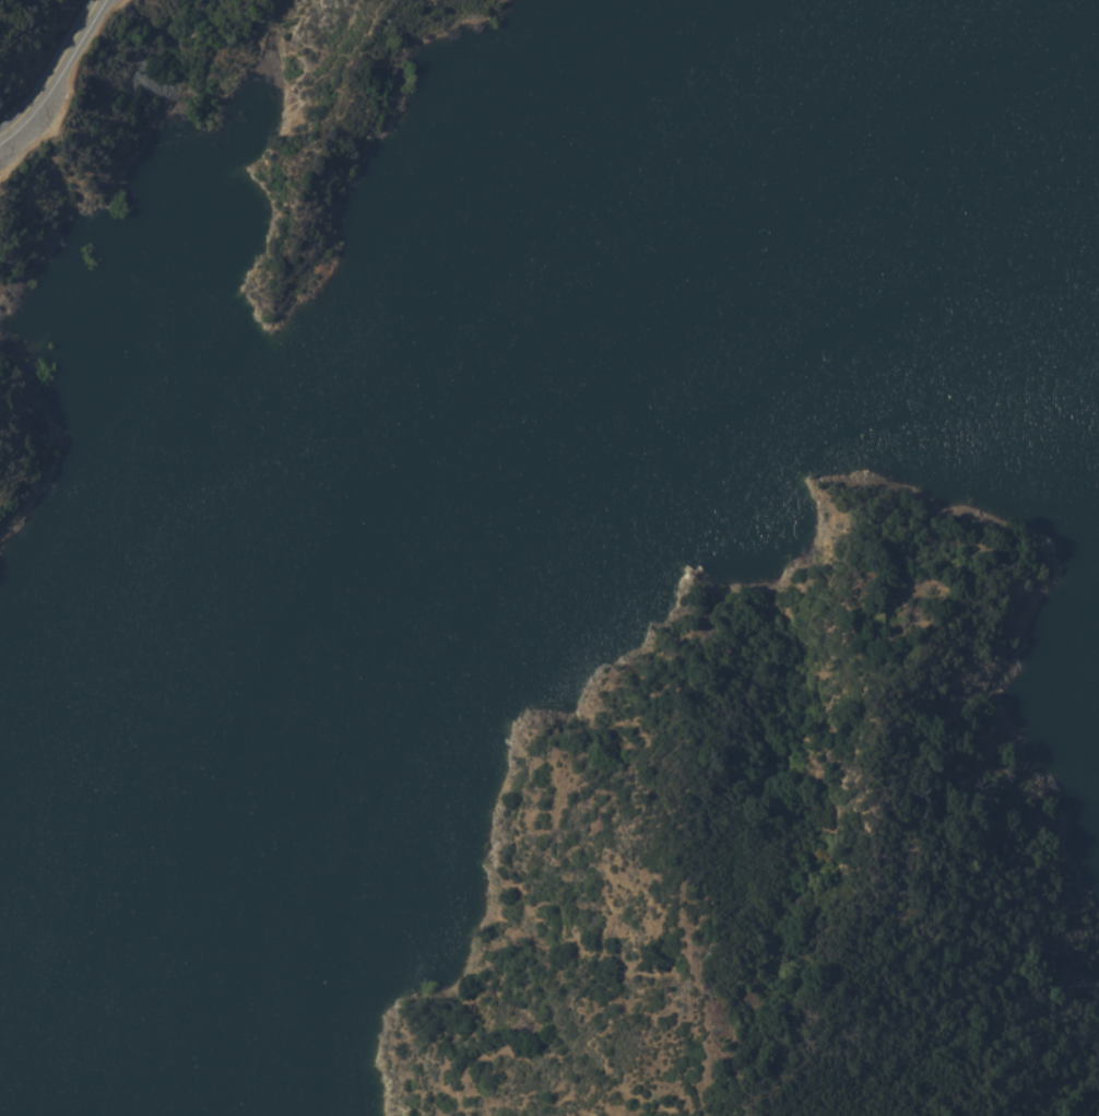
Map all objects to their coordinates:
road: (54, 70)

